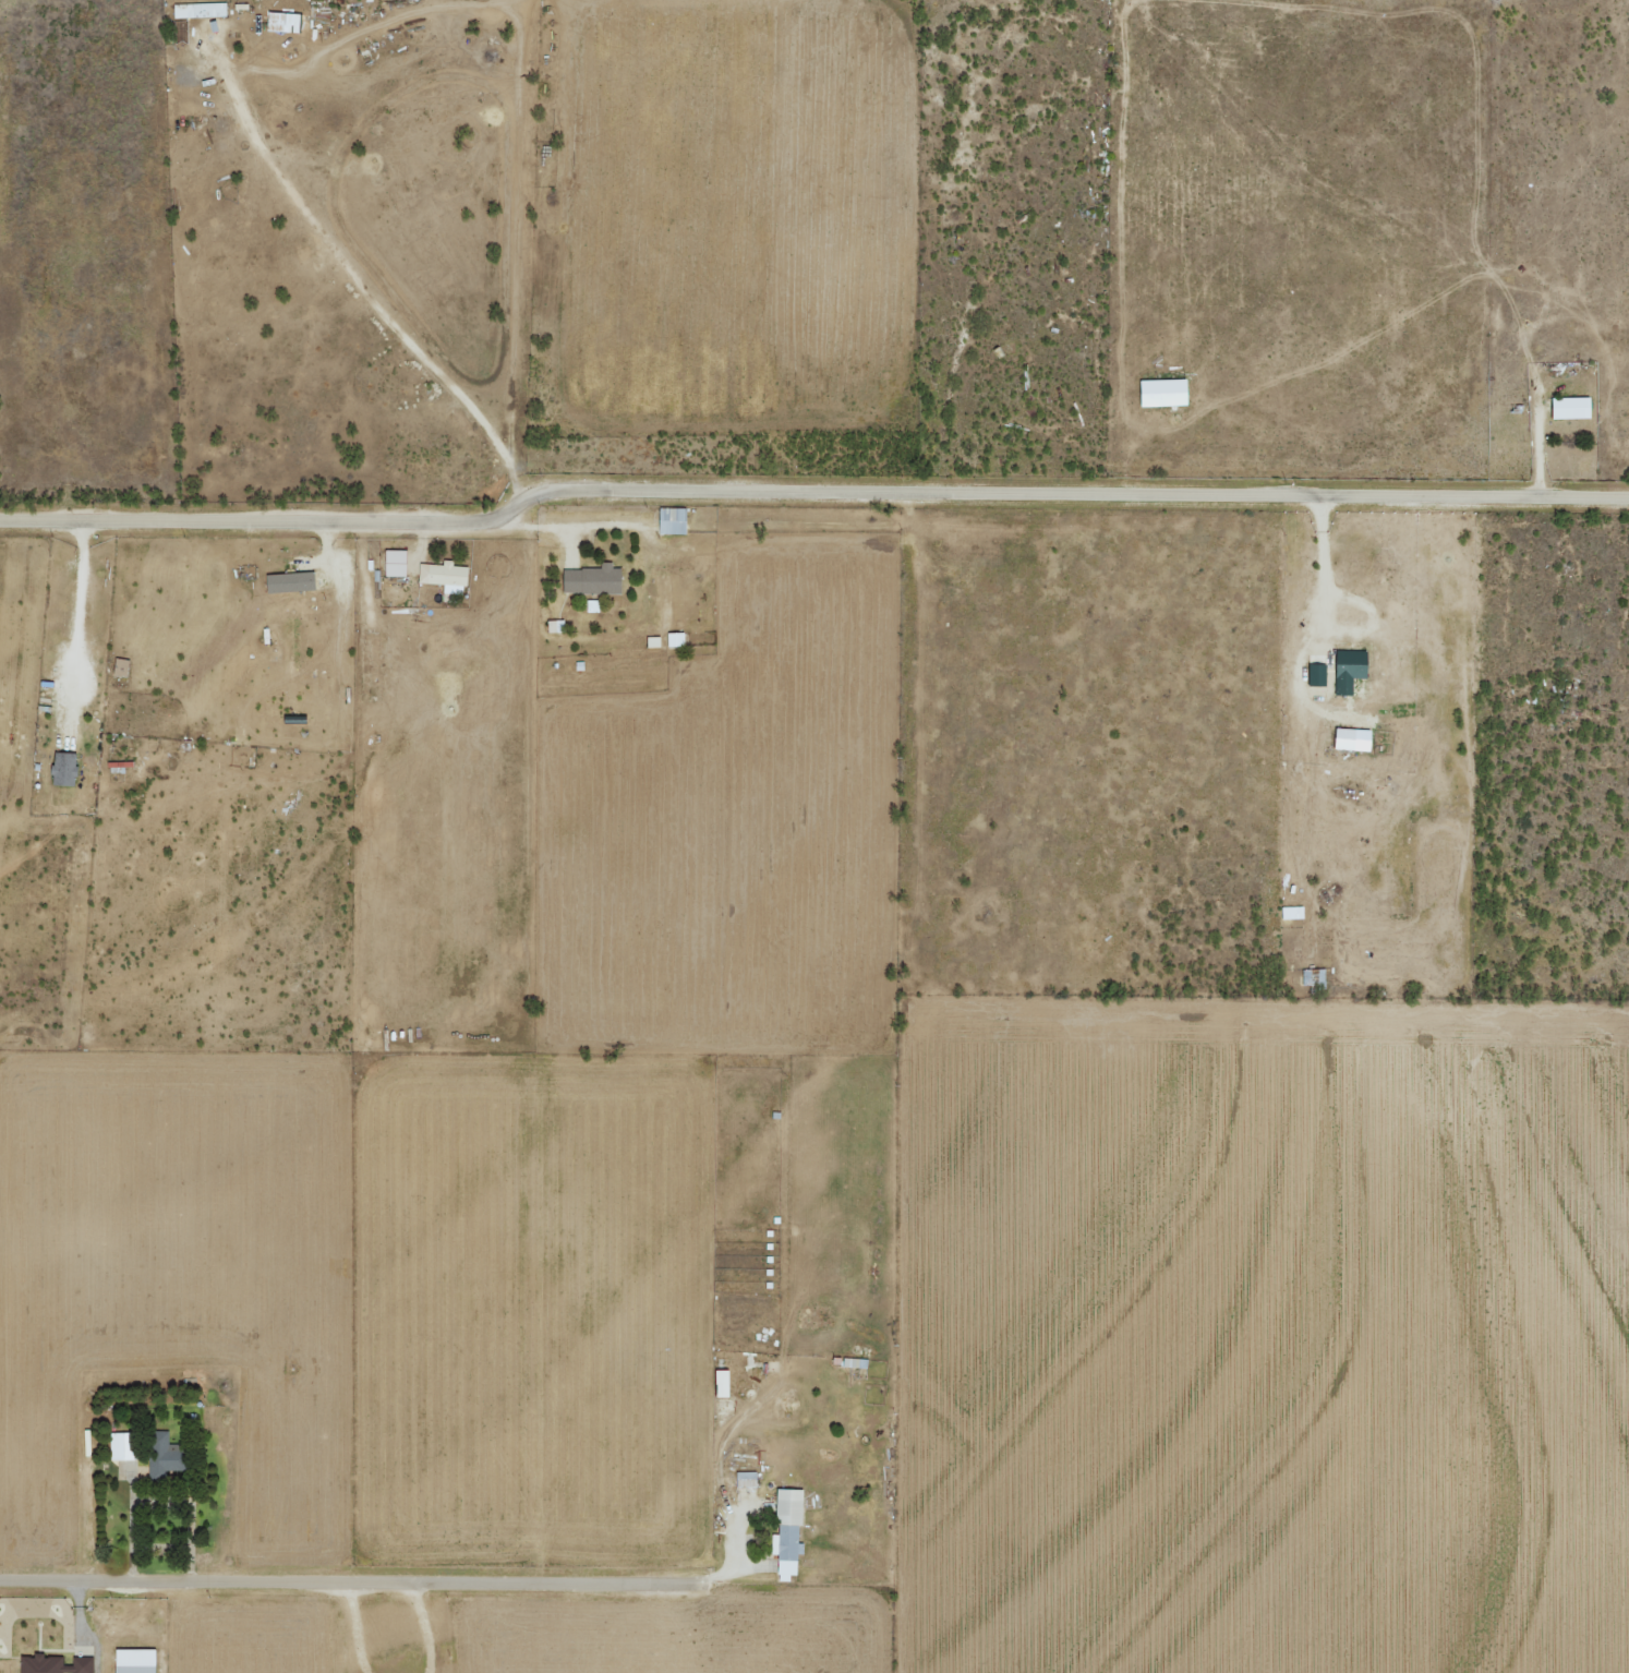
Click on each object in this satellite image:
building: (198, 11)
building: (281, 23)
building: (1161, 393)
building: (1569, 408)
road: (805, 493)
building: (671, 521)
building: (394, 564)
building: (444, 577)
building: (592, 580)
building: (289, 582)
building: (555, 627)
building: (674, 640)
building: (652, 642)
building: (119, 667)
building: (1348, 671)
building: (1316, 676)
building: (1351, 739)
building: (62, 770)
building: (1313, 977)
building: (720, 1384)
building: (120, 1447)
building: (162, 1456)
building: (787, 1534)
road: (295, 1589)
building: (133, 1661)
building: (53, 1664)

